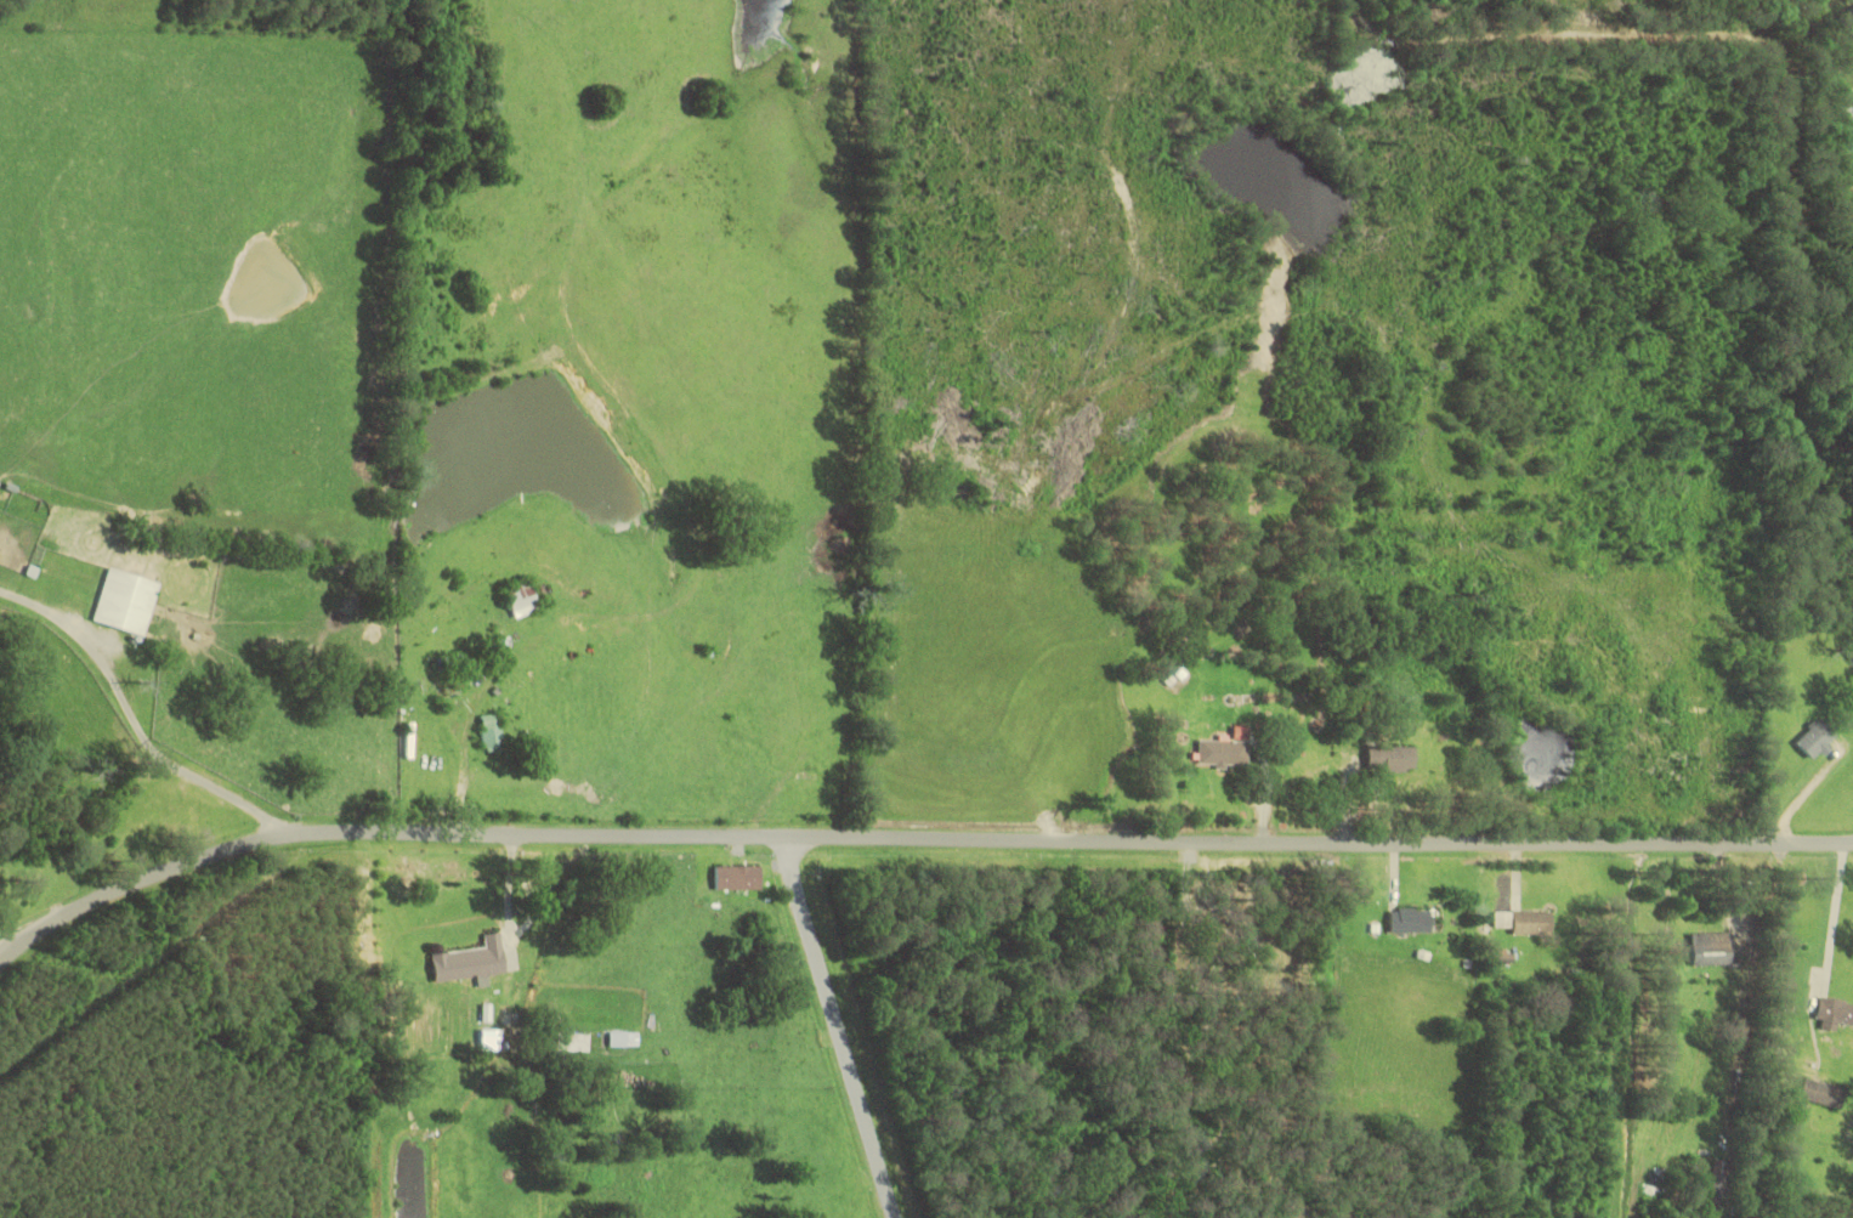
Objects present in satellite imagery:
road: (4, 601)
building: (520, 602)
building: (124, 605)
road: (126, 725)
building: (489, 736)
building: (1814, 743)
building: (1219, 755)
building: (1385, 763)
road: (909, 835)
building: (736, 882)
road: (1838, 903)
building: (1407, 924)
building: (1530, 925)
building: (1710, 952)
building: (467, 964)
building: (1834, 1018)
road: (199, 1020)
road: (839, 1029)
building: (614, 1042)
building: (1820, 1097)

